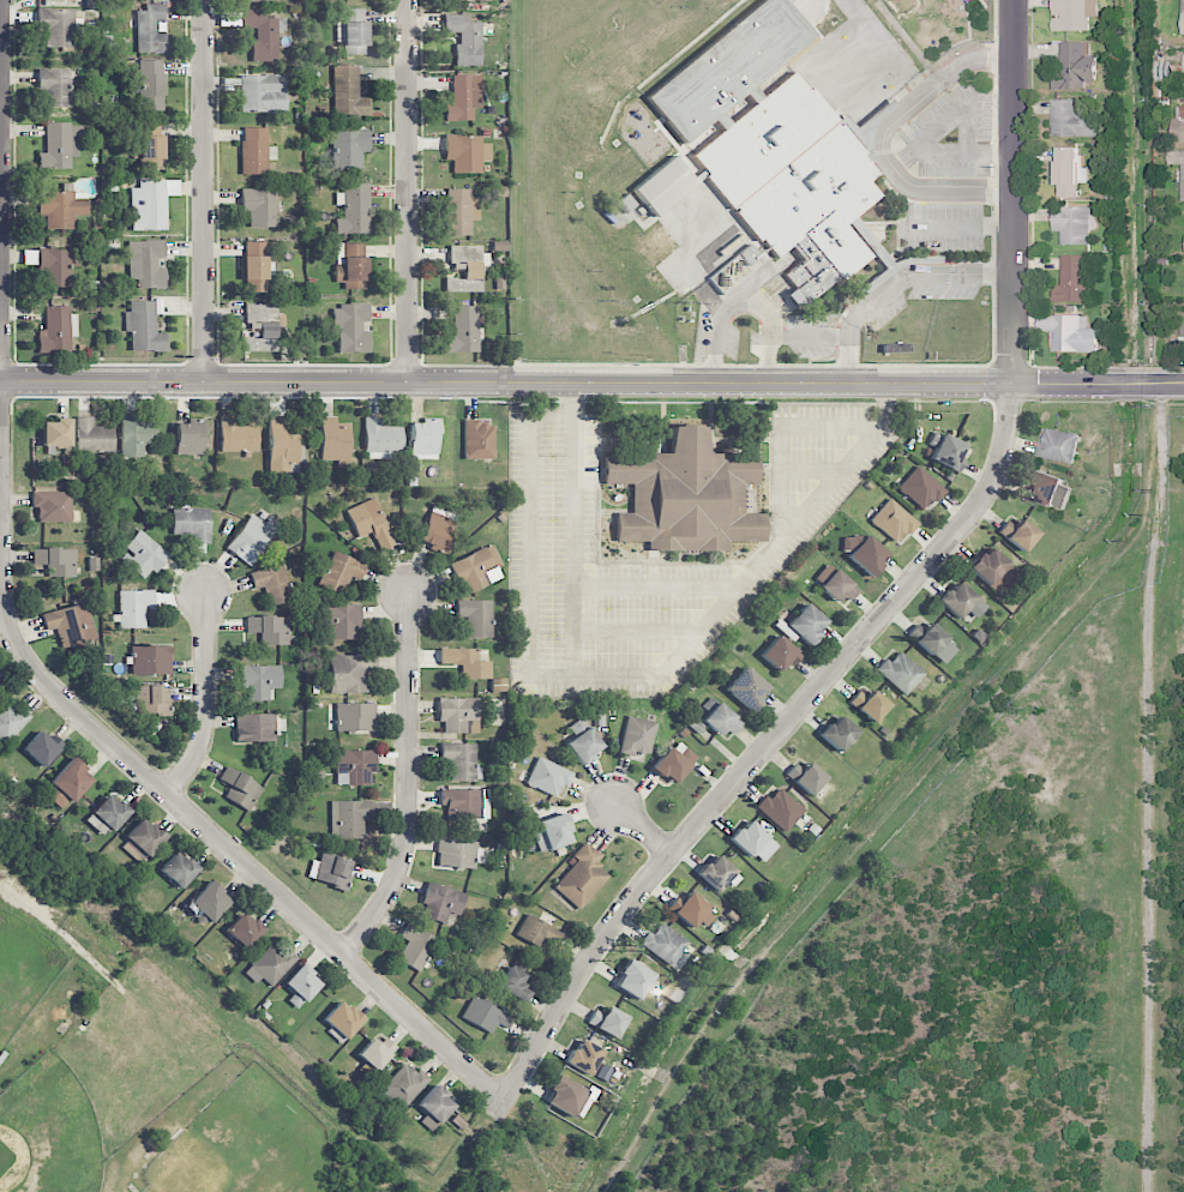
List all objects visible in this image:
building: (256, 0)
building: (487, 0)
building: (1072, 14)
building: (1183, 17)
building: (56, 26)
building: (150, 29)
building: (354, 31)
building: (263, 34)
building: (464, 38)
building: (1074, 66)
building: (152, 85)
building: (54, 86)
building: (348, 92)
building: (263, 94)
building: (464, 98)
building: (1072, 118)
building: (1177, 126)
road: (881, 136)
building: (150, 143)
road: (922, 143)
building: (60, 145)
building: (349, 148)
building: (773, 148)
building: (256, 151)
building: (467, 152)
building: (1069, 170)
building: (1182, 182)
building: (665, 186)
road: (203, 191)
road: (408, 191)
building: (148, 204)
building: (260, 206)
building: (61, 207)
building: (354, 209)
building: (461, 211)
building: (1071, 223)
building: (146, 263)
building: (351, 265)
building: (53, 266)
building: (256, 267)
building: (468, 267)
road: (918, 273)
building: (1071, 279)
road: (726, 309)
building: (1180, 324)
building: (143, 327)
building: (262, 327)
building: (351, 329)
building: (56, 330)
building: (463, 330)
building: (1069, 332)
road: (769, 333)
road: (834, 333)
road: (591, 386)
building: (56, 433)
building: (94, 437)
building: (137, 437)
building: (238, 437)
building: (190, 438)
building: (381, 438)
building: (423, 439)
building: (477, 440)
building: (335, 441)
building: (1058, 445)
building: (946, 451)
building: (920, 488)
building: (1047, 488)
building: (685, 495)
building: (53, 506)
building: (892, 520)
building: (369, 523)
building: (192, 524)
building: (437, 530)
building: (1017, 534)
building: (252, 537)
building: (864, 552)
building: (144, 554)
building: (56, 561)
building: (477, 568)
building: (993, 570)
building: (341, 571)
road: (579, 580)
building: (272, 583)
building: (835, 583)
road: (895, 600)
building: (962, 603)
building: (134, 607)
building: (475, 616)
building: (341, 621)
building: (807, 624)
building: (72, 625)
building: (271, 630)
building: (932, 643)
building: (780, 654)
building: (151, 660)
building: (467, 662)
building: (901, 672)
building: (347, 674)
building: (259, 681)
road: (631, 681)
building: (747, 688)
road: (205, 697)
building: (152, 700)
building: (869, 705)
building: (457, 714)
building: (355, 717)
building: (721, 720)
building: (11, 721)
building: (258, 727)
building: (839, 734)
building: (637, 736)
building: (583, 741)
building: (42, 748)
building: (461, 761)
building: (674, 763)
building: (354, 766)
building: (548, 777)
building: (805, 777)
road: (409, 781)
building: (67, 784)
road: (1147, 787)
building: (240, 789)
building: (464, 805)
road: (182, 808)
building: (781, 808)
building: (107, 815)
building: (348, 818)
road: (643, 827)
building: (551, 833)
building: (142, 841)
building: (753, 841)
building: (456, 853)
building: (179, 869)
building: (330, 871)
building: (719, 873)
building: (581, 878)
building: (441, 902)
building: (210, 903)
building: (691, 910)
building: (244, 931)
building: (536, 932)
building: (663, 944)
building: (415, 946)
building: (271, 964)
building: (515, 980)
building: (633, 980)
building: (300, 986)
building: (485, 1016)
building: (343, 1019)
building: (607, 1021)
building: (377, 1053)
building: (584, 1056)
building: (404, 1084)
building: (569, 1097)
building: (434, 1107)

